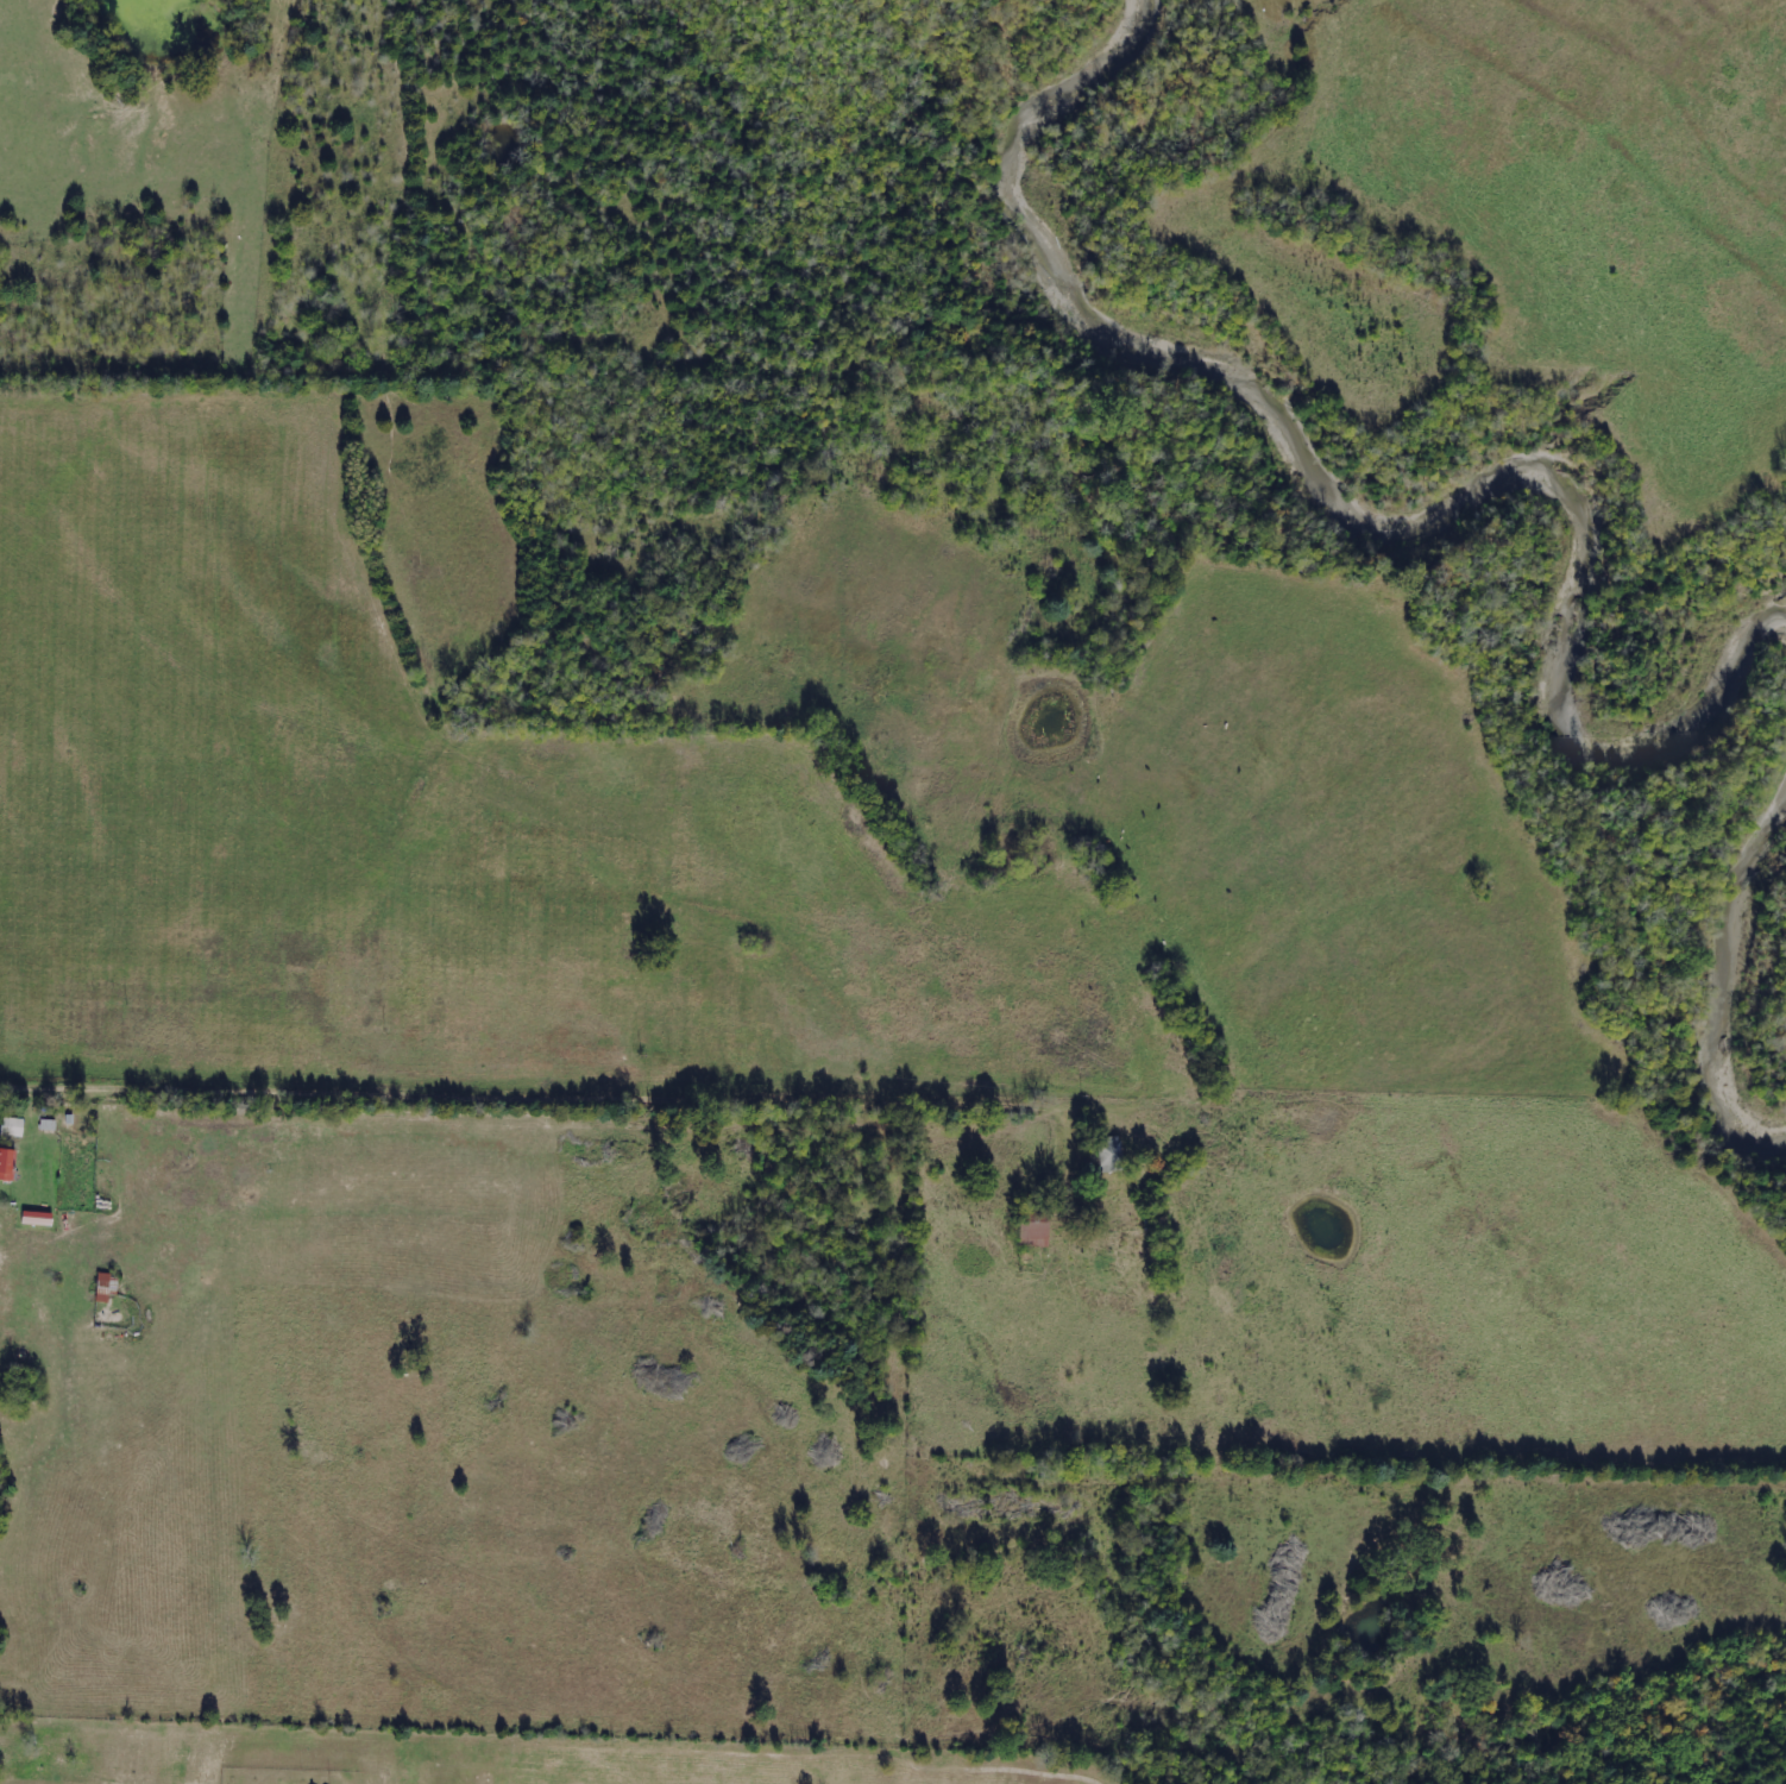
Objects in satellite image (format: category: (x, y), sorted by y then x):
road: (547, 1098)
building: (12, 1126)
building: (1111, 1152)
building: (7, 1164)
building: (37, 1218)
building: (1033, 1235)
building: (107, 1287)
road: (365, 1710)

